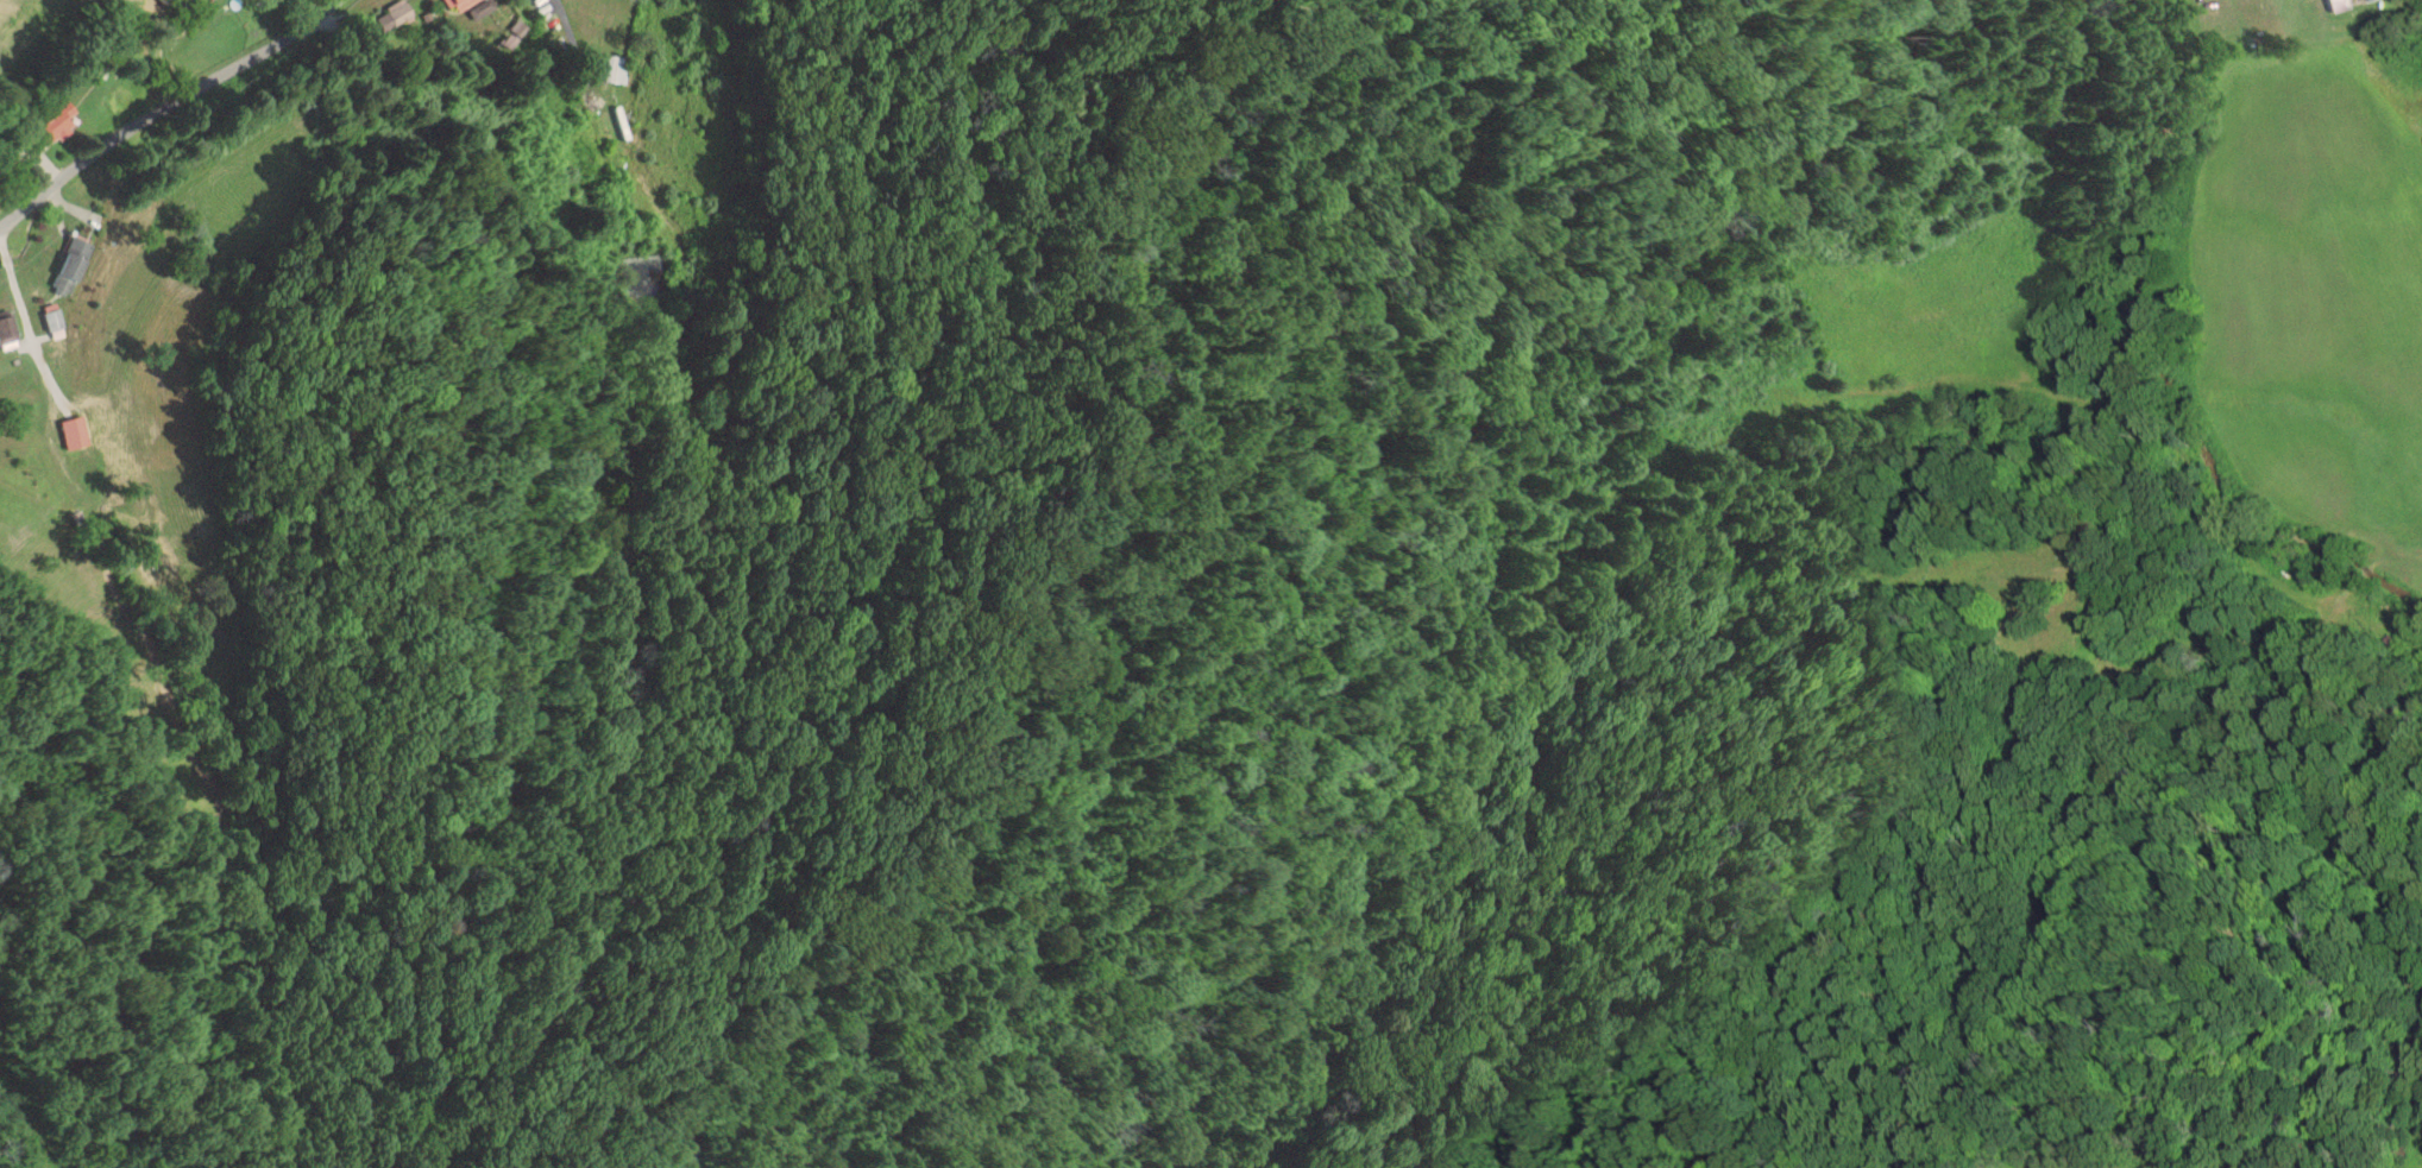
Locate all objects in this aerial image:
building: (291, 0)
building: (2373, 0)
building: (460, 5)
building: (396, 15)
building: (614, 69)
road: (165, 106)
building: (50, 127)
building: (71, 267)
building: (54, 320)
building: (8, 333)
building: (76, 434)

